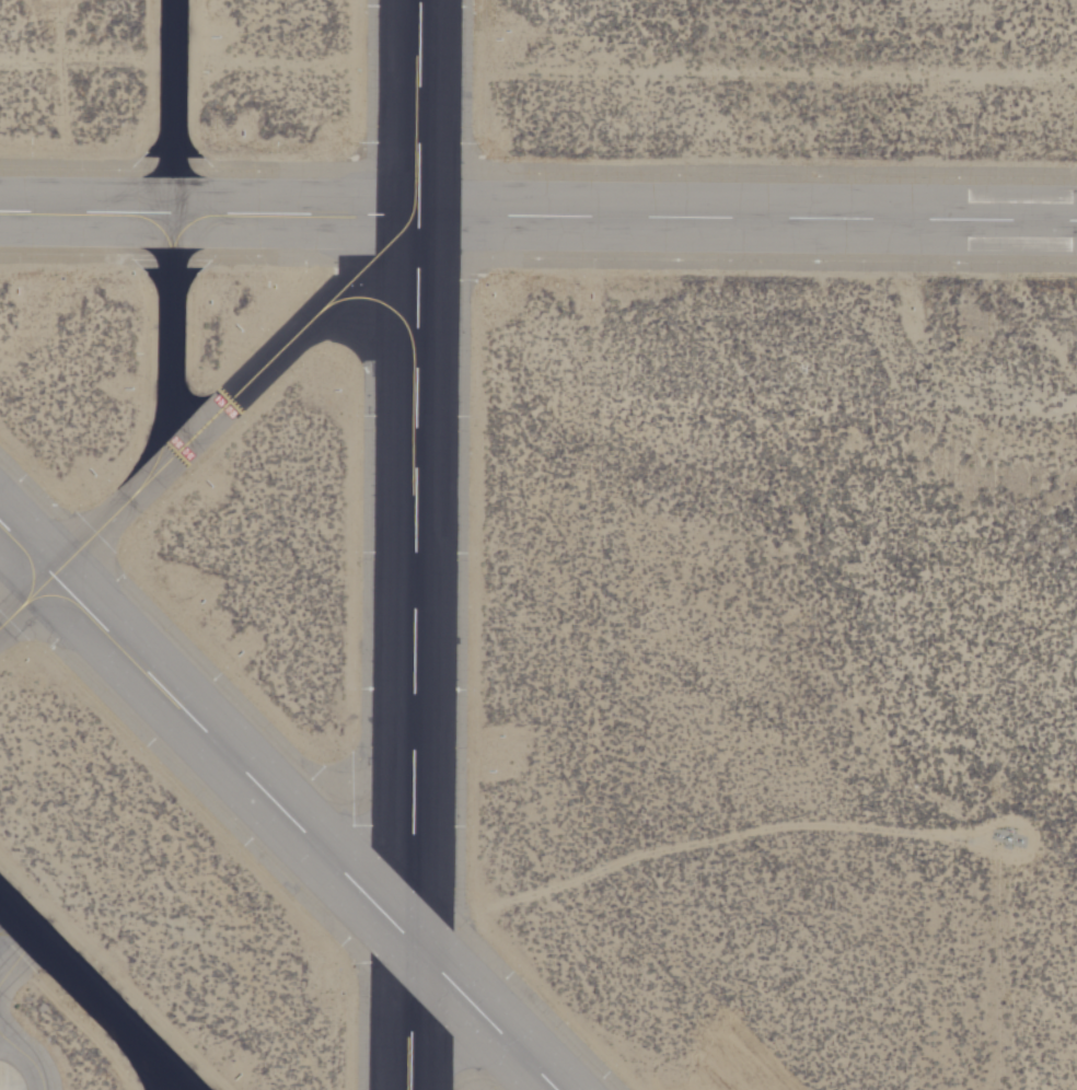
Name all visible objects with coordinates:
airport runway: (537, 194)
airport taxiway: (170, 224)
airport taxiway: (209, 409)
airport runway: (415, 544)
airport: (538, 545)
airport runway: (280, 801)
airport taxiway: (85, 997)

